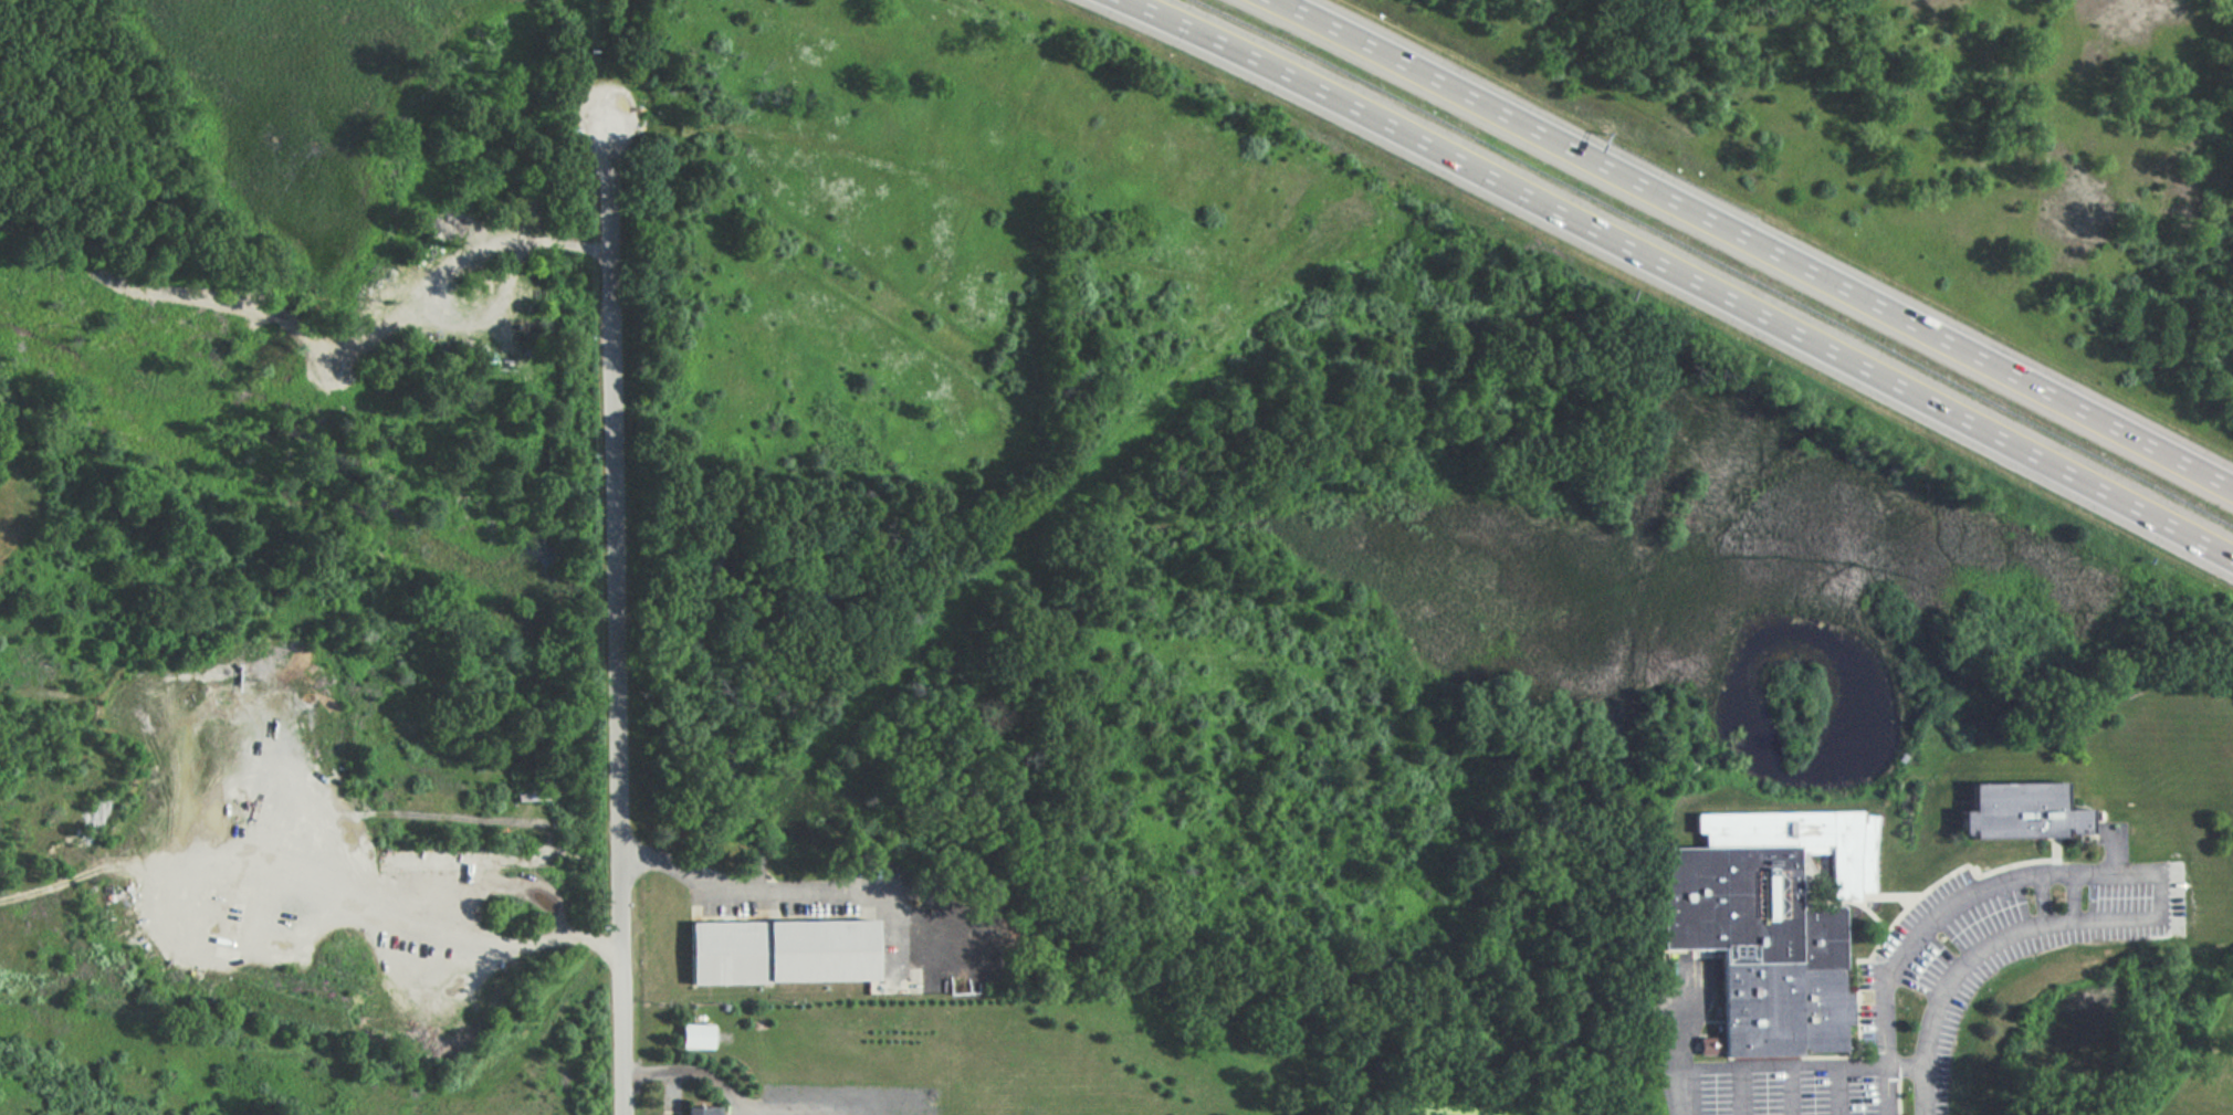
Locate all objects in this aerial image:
road: (1688, 206)
road: (1675, 276)
road: (2160, 452)
road: (616, 616)
building: (2021, 812)
road: (736, 888)
road: (1962, 902)
building: (1770, 923)
road: (1983, 950)
building: (784, 954)
building: (698, 1038)
road: (1676, 1054)
road: (1801, 1067)
road: (670, 1090)
road: (1839, 1091)
road: (1739, 1092)
road: (1792, 1092)
road: (735, 1097)
building: (699, 1109)

